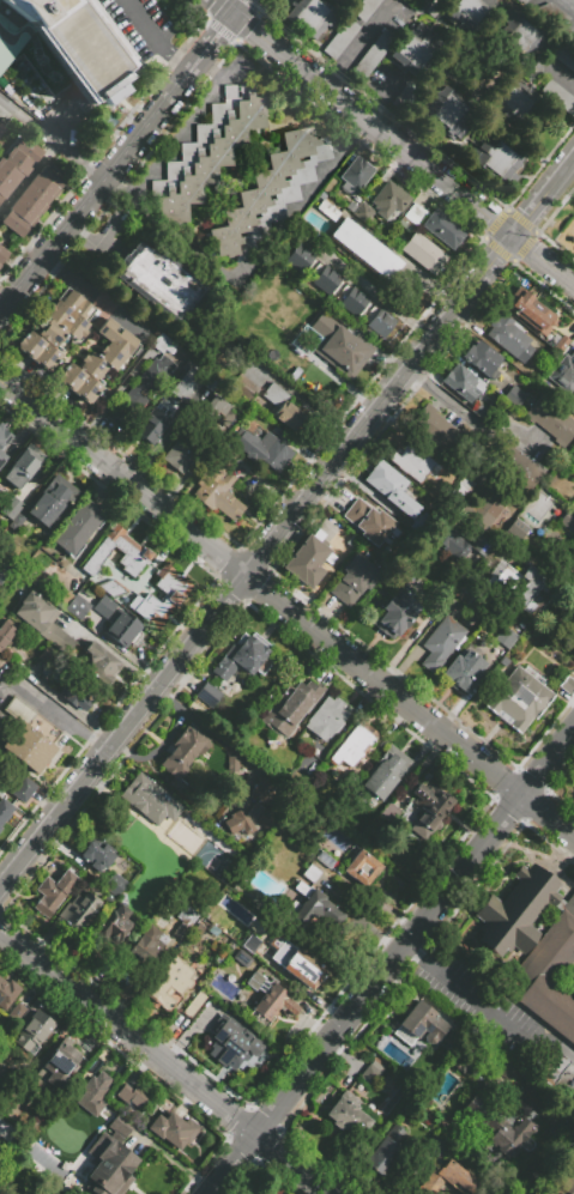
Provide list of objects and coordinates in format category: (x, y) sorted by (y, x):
building: (422, 0)
building: (521, 1)
road: (223, 7)
road: (240, 8)
building: (364, 8)
road: (567, 8)
parking lot: (558, 11)
building: (470, 16)
building: (551, 16)
building: (312, 17)
road: (158, 36)
building: (520, 37)
building: (340, 38)
building: (65, 44)
road: (357, 47)
building: (417, 49)
road: (206, 51)
building: (371, 55)
building: (563, 59)
building: (532, 73)
road: (555, 75)
building: (557, 96)
building: (406, 101)
building: (512, 102)
building: (447, 114)
building: (1, 128)
road: (176, 134)
road: (52, 140)
road: (404, 152)
building: (206, 153)
building: (497, 160)
building: (14, 164)
building: (355, 175)
building: (268, 194)
road: (303, 196)
building: (32, 199)
road: (89, 200)
building: (388, 200)
building: (327, 210)
building: (415, 213)
building: (367, 216)
building: (443, 229)
building: (367, 249)
building: (423, 253)
building: (2, 255)
building: (163, 285)
building: (337, 287)
road: (377, 295)
road: (93, 298)
building: (533, 313)
building: (56, 328)
building: (248, 329)
building: (509, 337)
building: (163, 345)
building: (339, 345)
building: (219, 357)
building: (482, 358)
building: (101, 364)
building: (564, 372)
building: (301, 377)
building: (463, 382)
building: (549, 383)
building: (186, 386)
building: (244, 388)
building: (140, 392)
building: (514, 395)
building: (568, 406)
building: (283, 407)
building: (215, 412)
building: (481, 412)
road: (471, 417)
building: (550, 418)
building: (152, 424)
building: (441, 432)
building: (4, 435)
road: (164, 438)
building: (183, 448)
building: (262, 449)
building: (2, 456)
building: (411, 462)
building: (516, 466)
building: (22, 468)
road: (123, 480)
building: (464, 485)
building: (222, 487)
building: (391, 487)
building: (52, 502)
building: (572, 505)
building: (488, 509)
building: (13, 510)
building: (367, 521)
building: (568, 521)
road: (288, 526)
building: (428, 526)
building: (78, 527)
building: (518, 532)
building: (452, 544)
building: (479, 546)
building: (134, 551)
building: (26, 556)
building: (308, 559)
building: (2, 571)
building: (354, 580)
building: (522, 586)
building: (50, 587)
building: (163, 599)
building: (77, 607)
building: (104, 607)
building: (394, 614)
building: (42, 622)
building: (122, 628)
building: (5, 635)
building: (506, 637)
building: (441, 643)
building: (49, 657)
building: (243, 657)
building: (102, 665)
building: (464, 669)
building: (567, 685)
road: (383, 687)
building: (77, 693)
building: (205, 698)
building: (518, 699)
building: (291, 708)
road: (61, 717)
building: (326, 719)
building: (0, 726)
road: (216, 737)
building: (31, 739)
building: (354, 745)
building: (185, 752)
road: (548, 764)
building: (232, 766)
building: (385, 772)
building: (23, 789)
building: (261, 790)
building: (146, 798)
building: (429, 806)
building: (4, 810)
building: (389, 813)
building: (260, 816)
building: (367, 817)
road: (548, 817)
building: (238, 823)
building: (129, 831)
building: (209, 849)
building: (96, 853)
building: (324, 859)
building: (164, 862)
building: (362, 867)
building: (310, 873)
building: (114, 884)
building: (54, 891)
building: (157, 893)
building: (312, 908)
building: (79, 909)
building: (186, 923)
building: (114, 926)
building: (250, 945)
building: (534, 946)
building: (145, 950)
road: (411, 956)
building: (242, 958)
building: (302, 969)
building: (169, 982)
building: (7, 993)
road: (364, 995)
building: (268, 1000)
building: (194, 1005)
road: (479, 1010)
building: (18, 1014)
building: (422, 1022)
building: (32, 1032)
building: (232, 1044)
building: (461, 1060)
road: (167, 1062)
building: (60, 1063)
building: (503, 1068)
building: (552, 1068)
building: (371, 1073)
building: (0, 1084)
building: (93, 1093)
building: (129, 1096)
building: (349, 1114)
building: (121, 1125)
building: (502, 1128)
road: (563, 1128)
building: (171, 1129)
building: (437, 1148)
building: (385, 1151)
building: (109, 1166)
building: (448, 1181)
building: (564, 1188)

